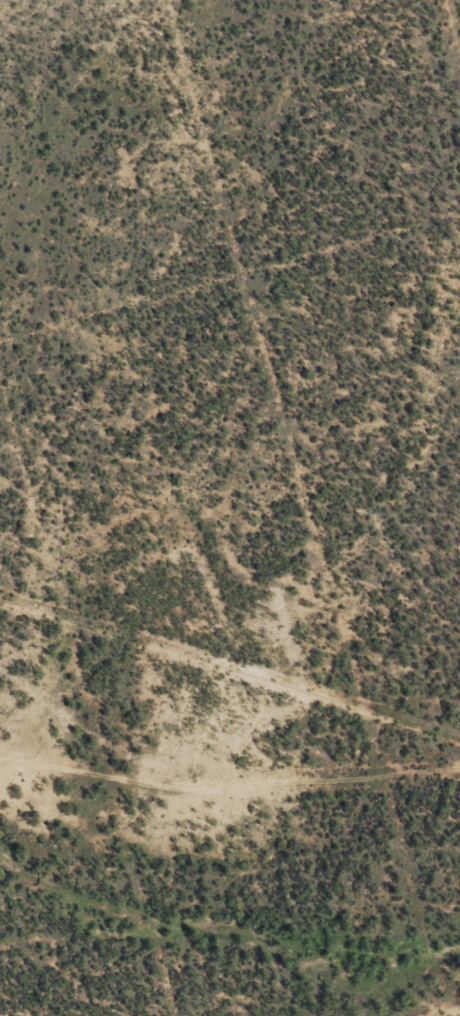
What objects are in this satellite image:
road: (47, 790)

